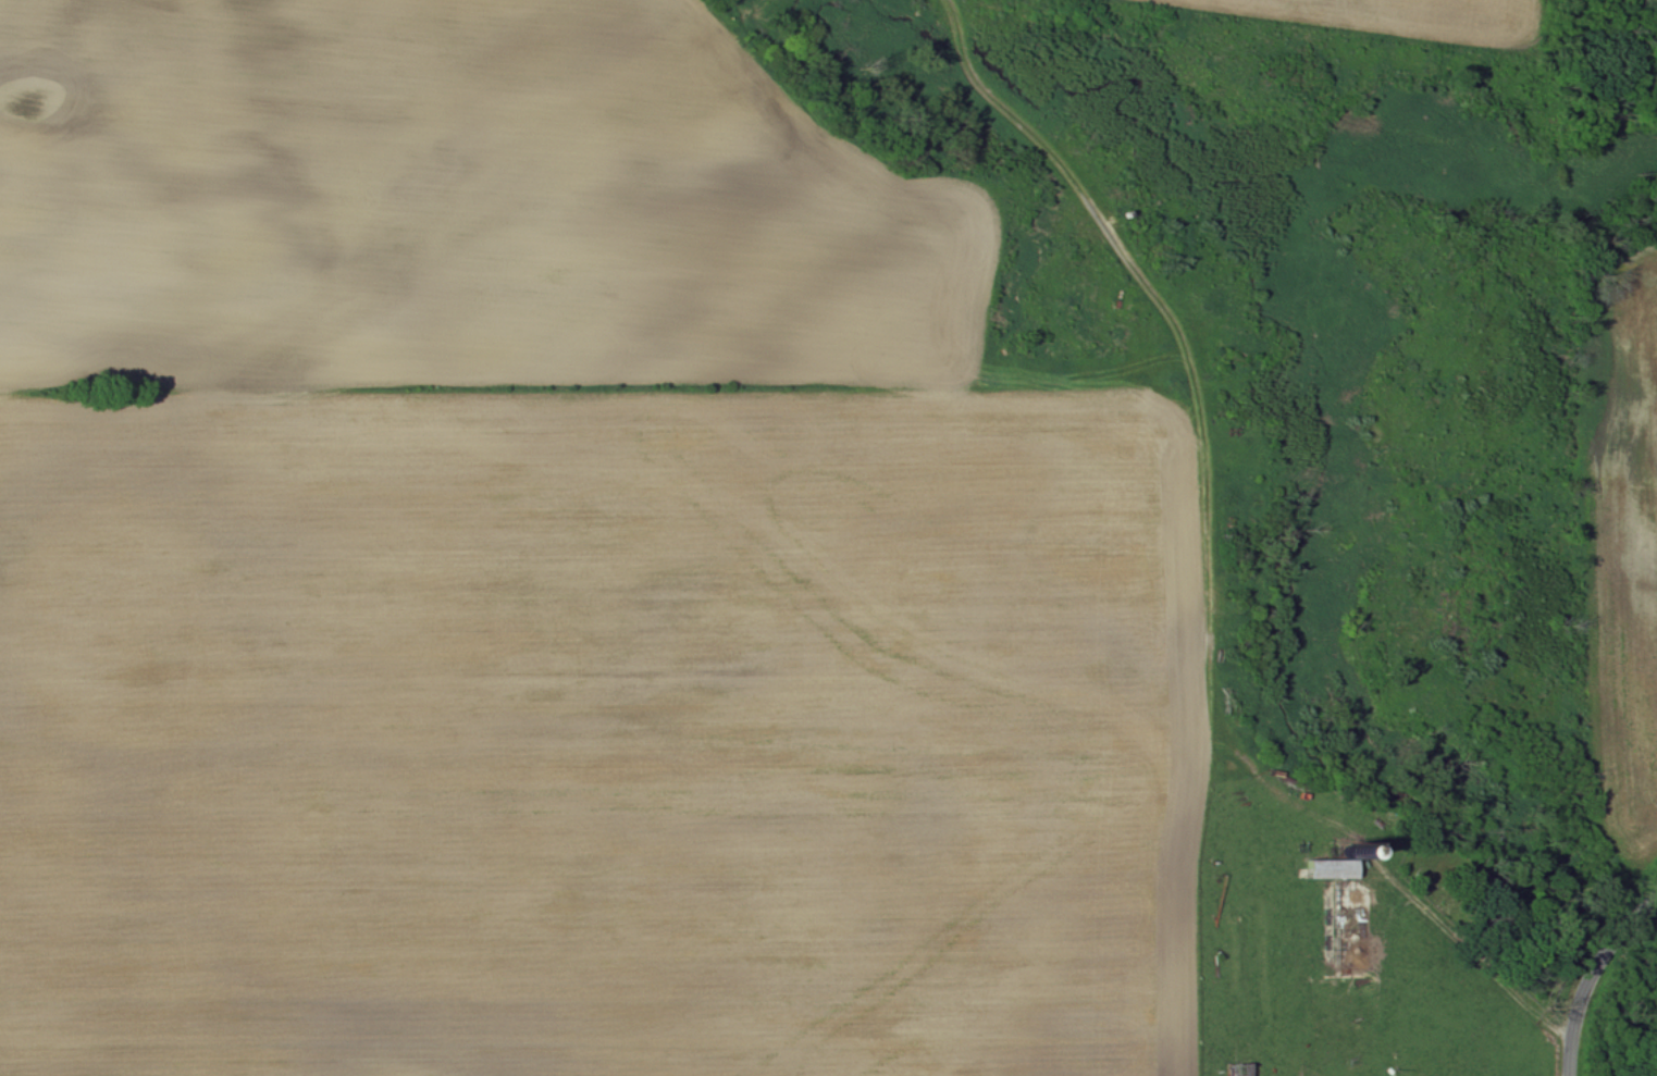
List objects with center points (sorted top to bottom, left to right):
building: (1332, 870)
road: (1656, 891)
road: (1587, 973)

